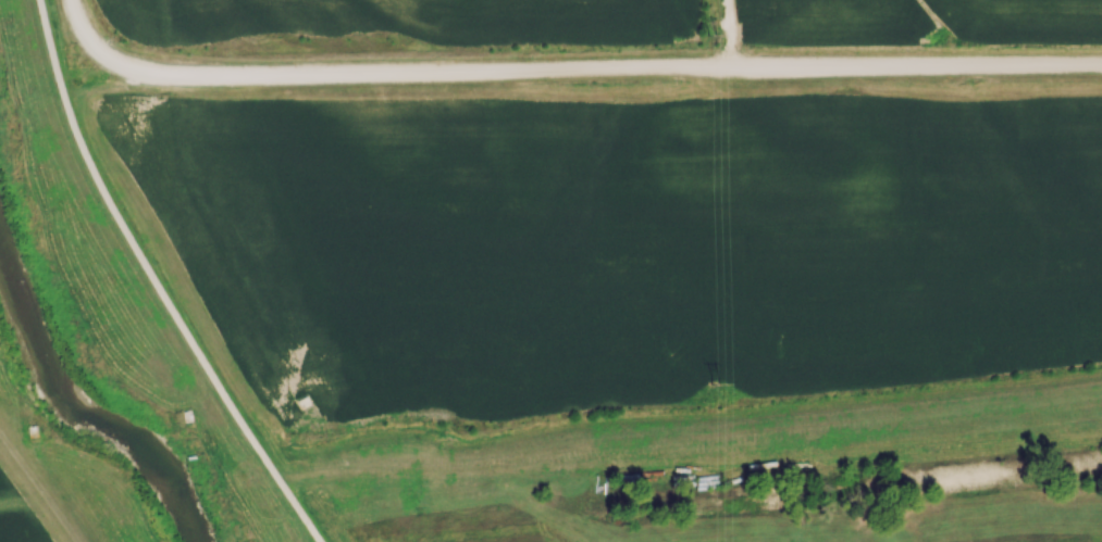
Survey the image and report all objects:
crop: (610, 22)
road: (82, 28)
road: (736, 33)
power tower: (720, 37)
road: (598, 66)
crop: (614, 239)
road: (157, 281)
power tower: (723, 381)
river: (84, 404)
road: (517, 470)
road: (39, 487)

